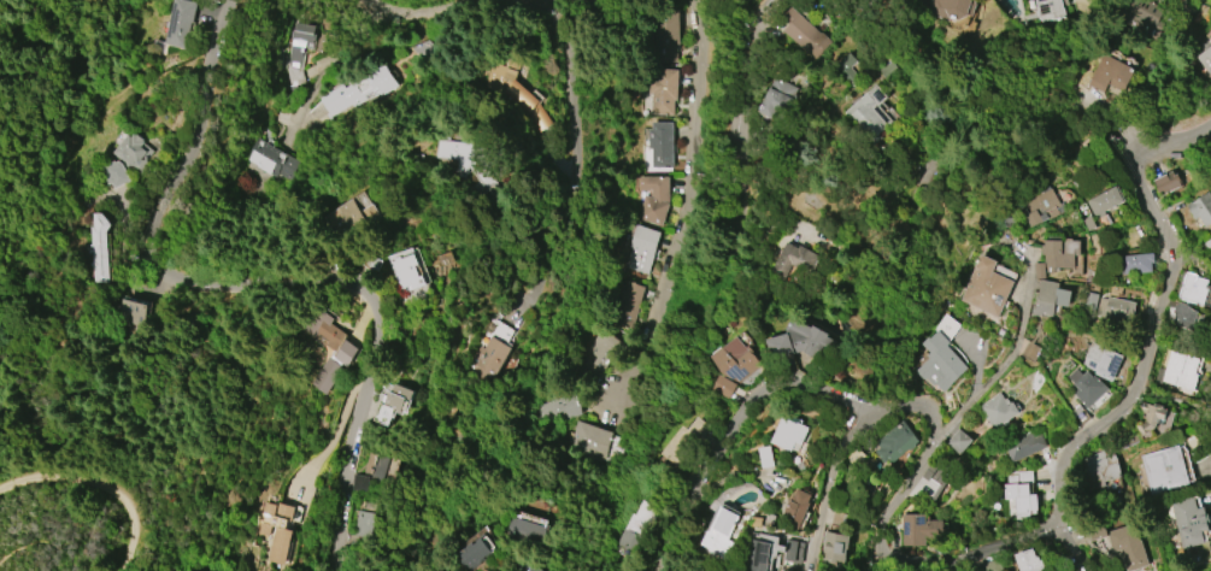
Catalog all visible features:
building: (555, 1)
building: (586, 2)
building: (948, 8)
building: (1050, 10)
road: (430, 14)
building: (1135, 16)
building: (182, 23)
road: (372, 28)
building: (801, 29)
building: (668, 40)
building: (298, 41)
building: (1203, 63)
building: (848, 69)
road: (751, 70)
building: (1110, 75)
road: (318, 87)
building: (359, 89)
building: (517, 92)
building: (663, 92)
building: (780, 99)
building: (868, 113)
road: (1062, 118)
road: (308, 120)
building: (741, 135)
building: (660, 143)
building: (134, 152)
road: (572, 157)
building: (268, 161)
building: (475, 166)
road: (687, 167)
building: (1168, 183)
building: (653, 199)
building: (1101, 202)
building: (1041, 207)
building: (1201, 208)
building: (359, 219)
building: (828, 228)
building: (641, 247)
building: (99, 248)
building: (1059, 251)
building: (794, 260)
building: (1136, 264)
building: (419, 271)
road: (257, 285)
building: (987, 288)
building: (1194, 289)
building: (1050, 298)
building: (629, 305)
building: (1115, 310)
building: (127, 312)
road: (1157, 312)
building: (1180, 314)
building: (803, 341)
building: (333, 348)
building: (601, 349)
building: (488, 358)
road: (1010, 359)
building: (940, 361)
building: (1103, 361)
building: (734, 365)
building: (1177, 371)
building: (1087, 387)
building: (393, 402)
building: (998, 411)
building: (864, 416)
building: (1150, 417)
road: (729, 429)
building: (789, 434)
building: (588, 440)
building: (684, 441)
building: (959, 442)
building: (895, 443)
building: (1023, 446)
building: (766, 457)
building: (377, 466)
building: (1100, 467)
building: (1162, 470)
building: (1017, 477)
road: (100, 485)
road: (827, 485)
building: (1021, 499)
building: (795, 510)
building: (833, 519)
building: (1188, 522)
building: (364, 523)
building: (636, 526)
building: (278, 528)
building: (918, 529)
building: (525, 531)
building: (719, 532)
building: (1100, 532)
road: (874, 534)
building: (834, 546)
building: (1128, 546)
road: (36, 549)
road: (1071, 551)
building: (476, 552)
building: (1029, 560)
building: (529, 567)

